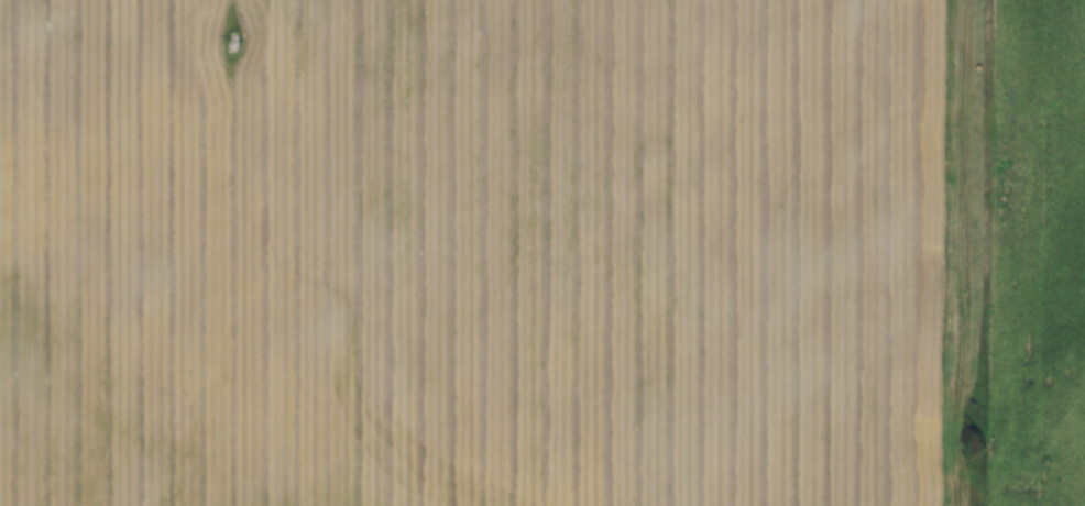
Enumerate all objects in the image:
road: (962, 107)

